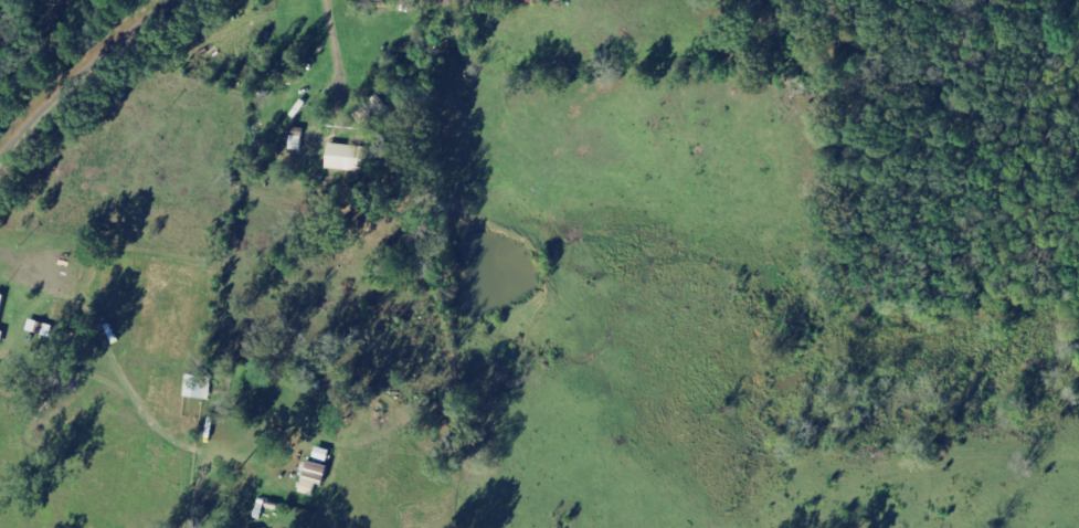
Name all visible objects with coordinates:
building: (544, 1)
road: (82, 78)
building: (347, 158)
building: (201, 388)

